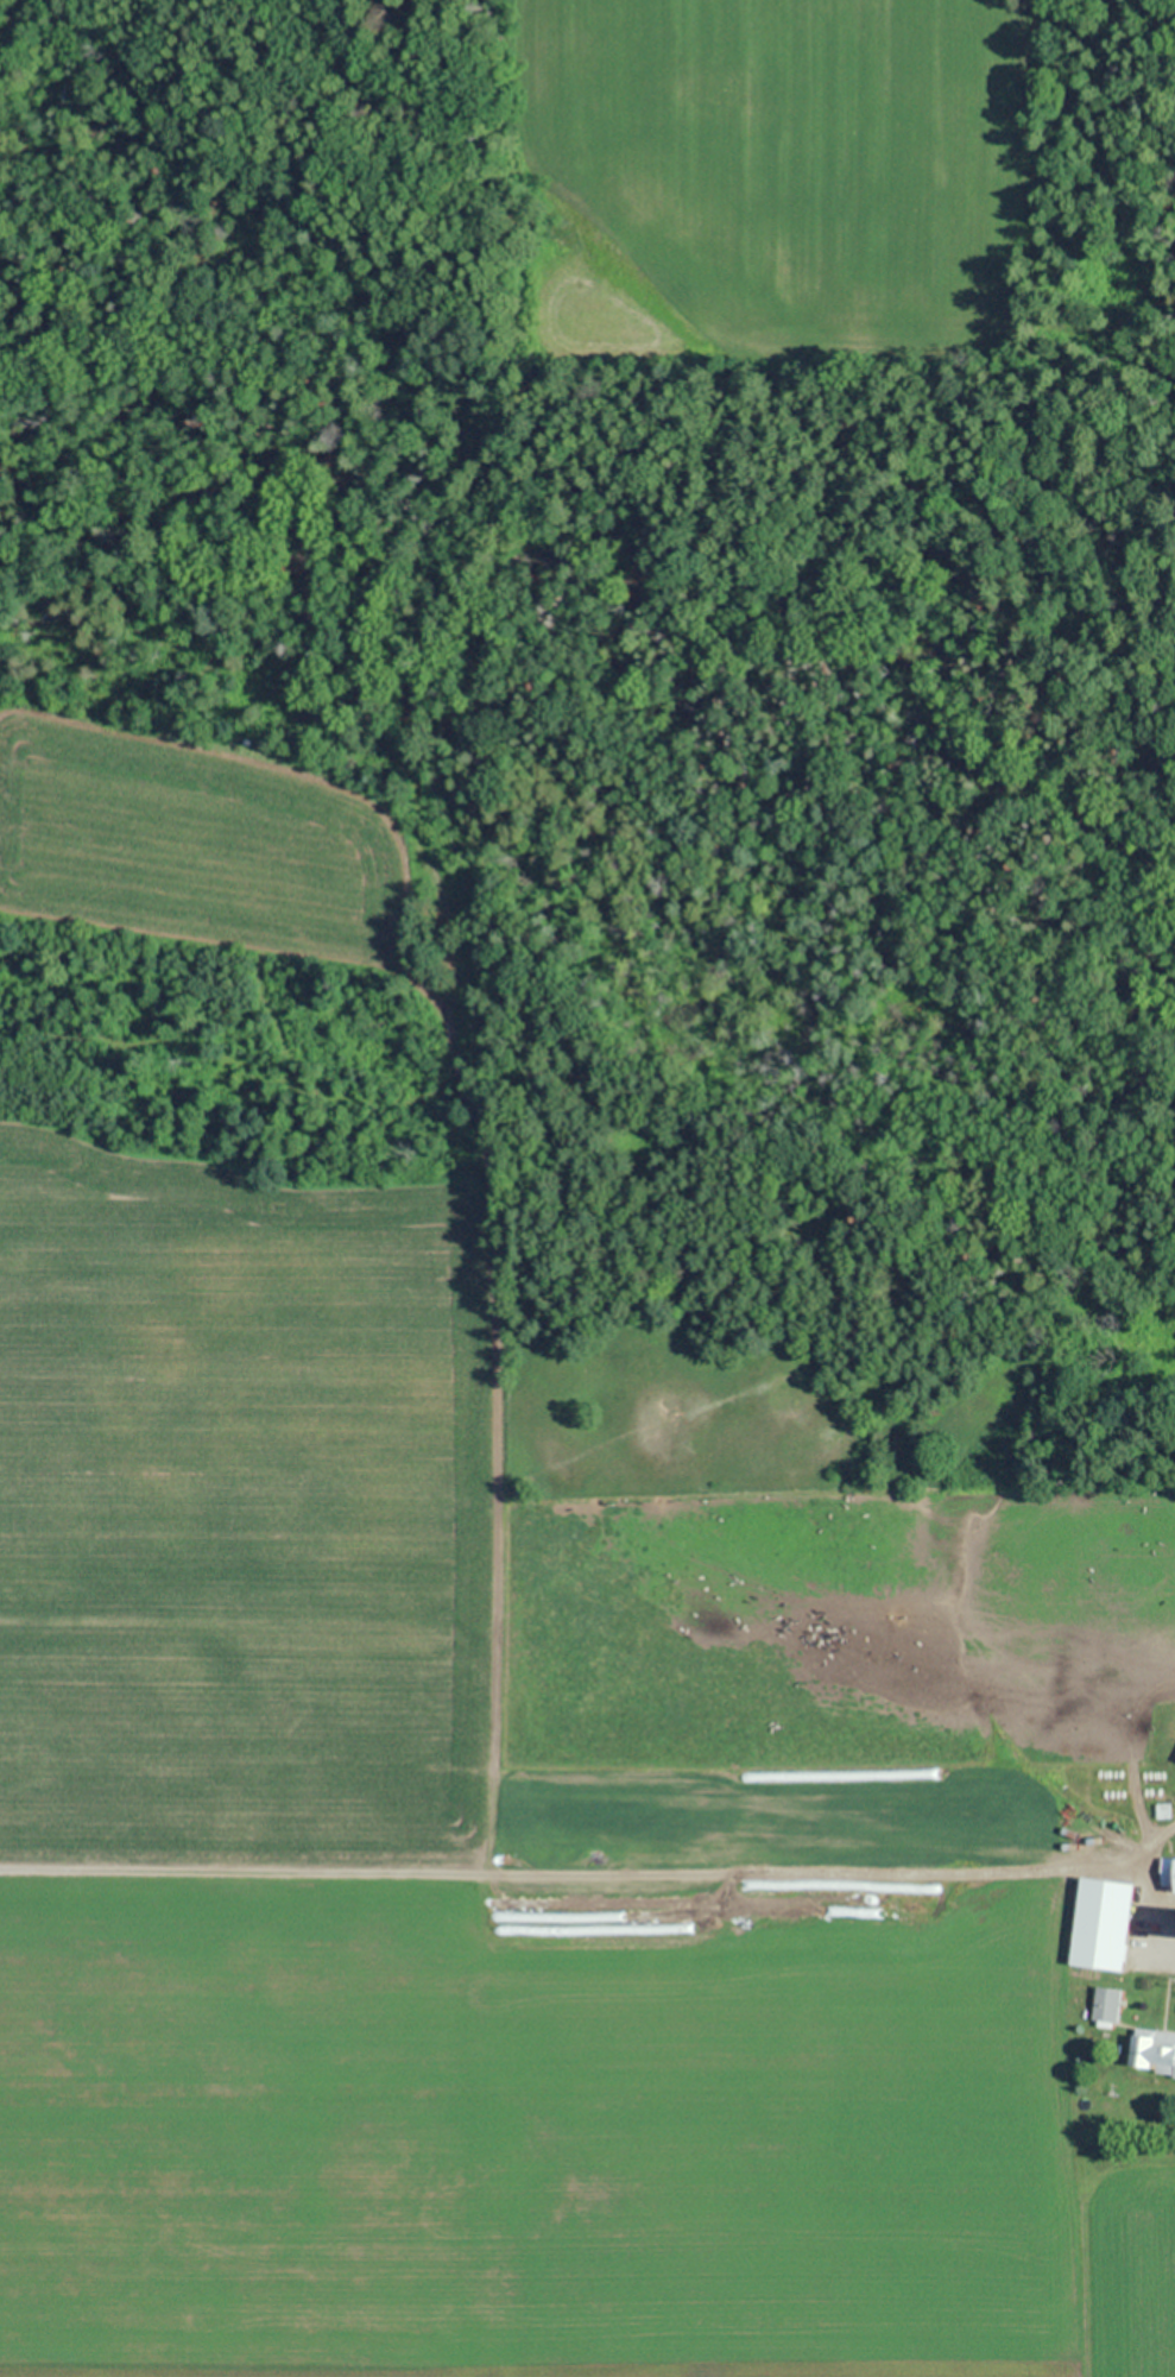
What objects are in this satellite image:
building: (1081, 1850)
building: (1167, 1873)
road: (615, 1880)
building: (1125, 1922)
building: (1105, 2005)
building: (1152, 2050)
road: (1068, 2124)

